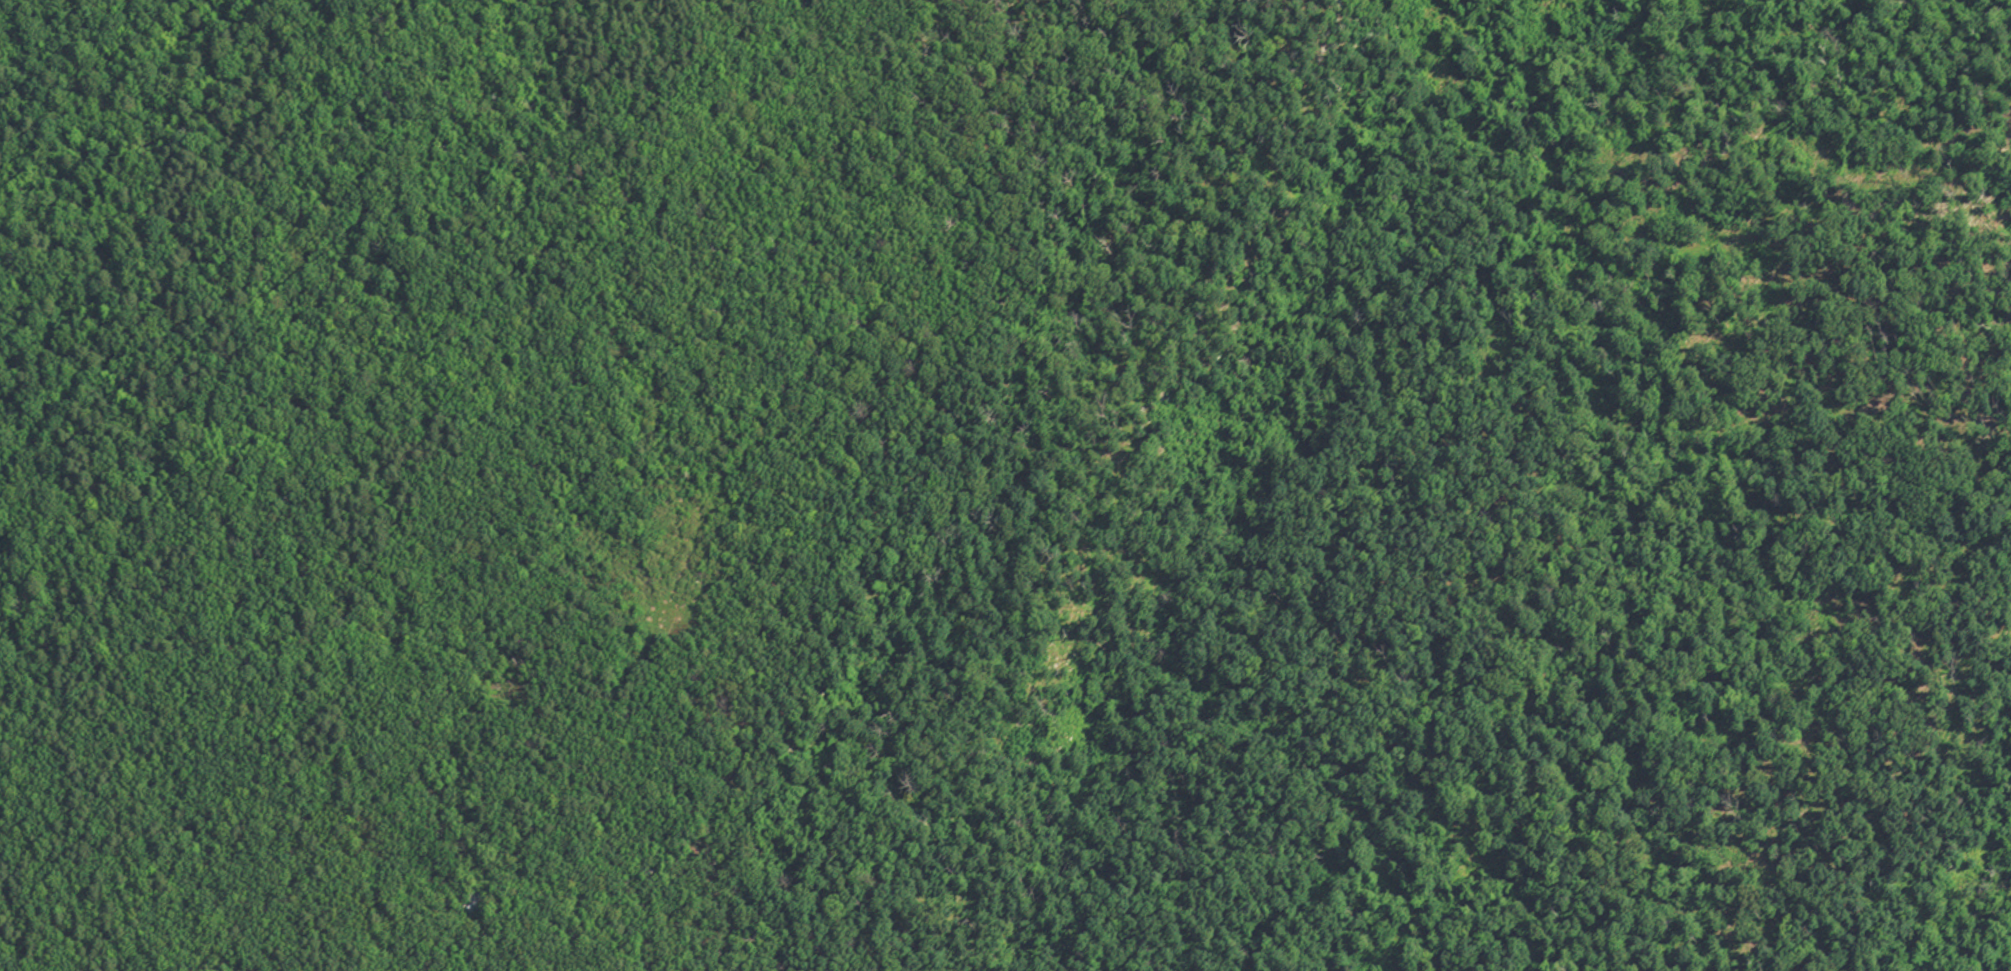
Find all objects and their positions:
road: (984, 488)

